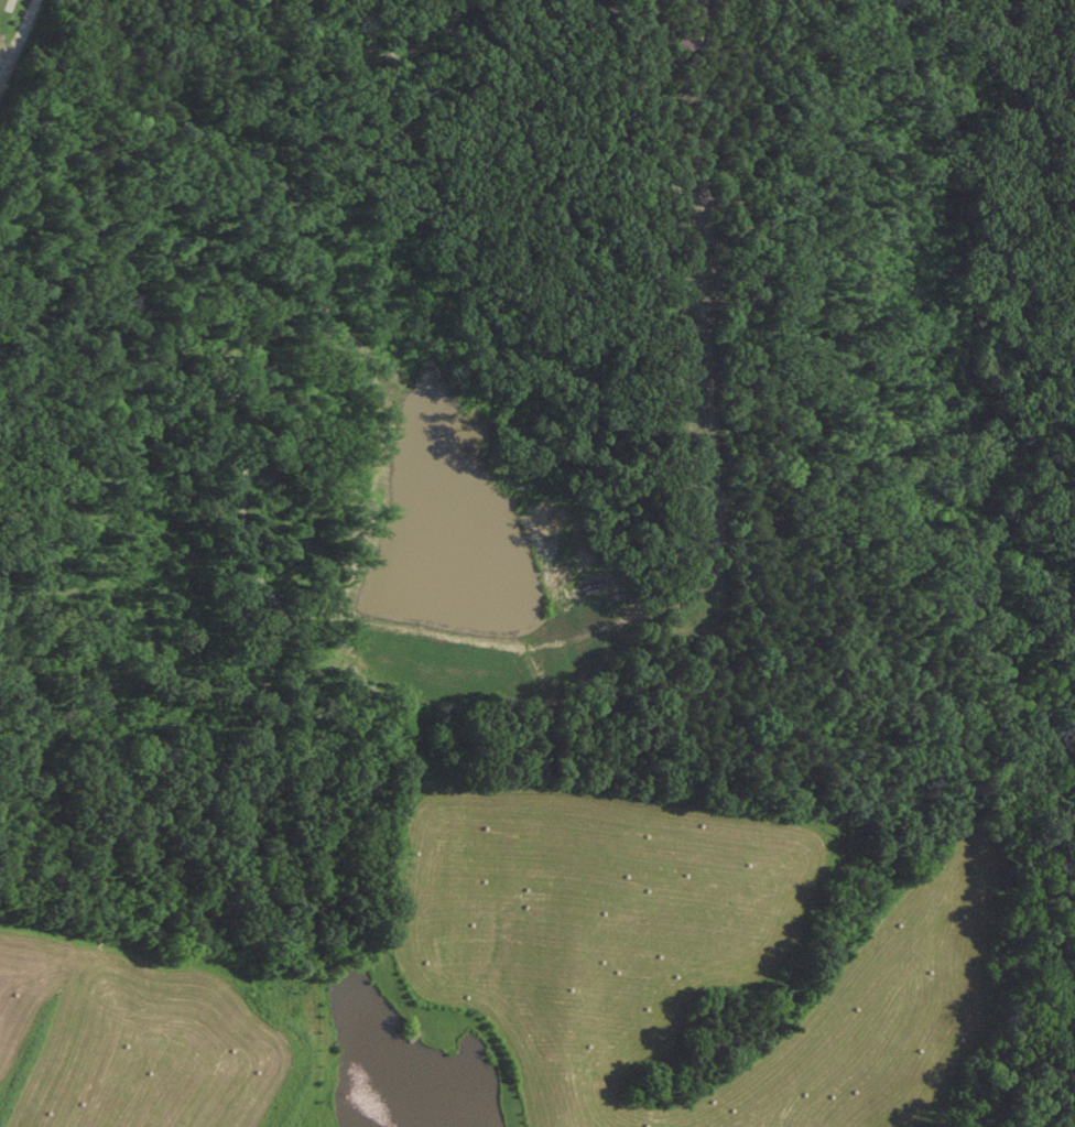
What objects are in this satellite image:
road: (15, 36)

